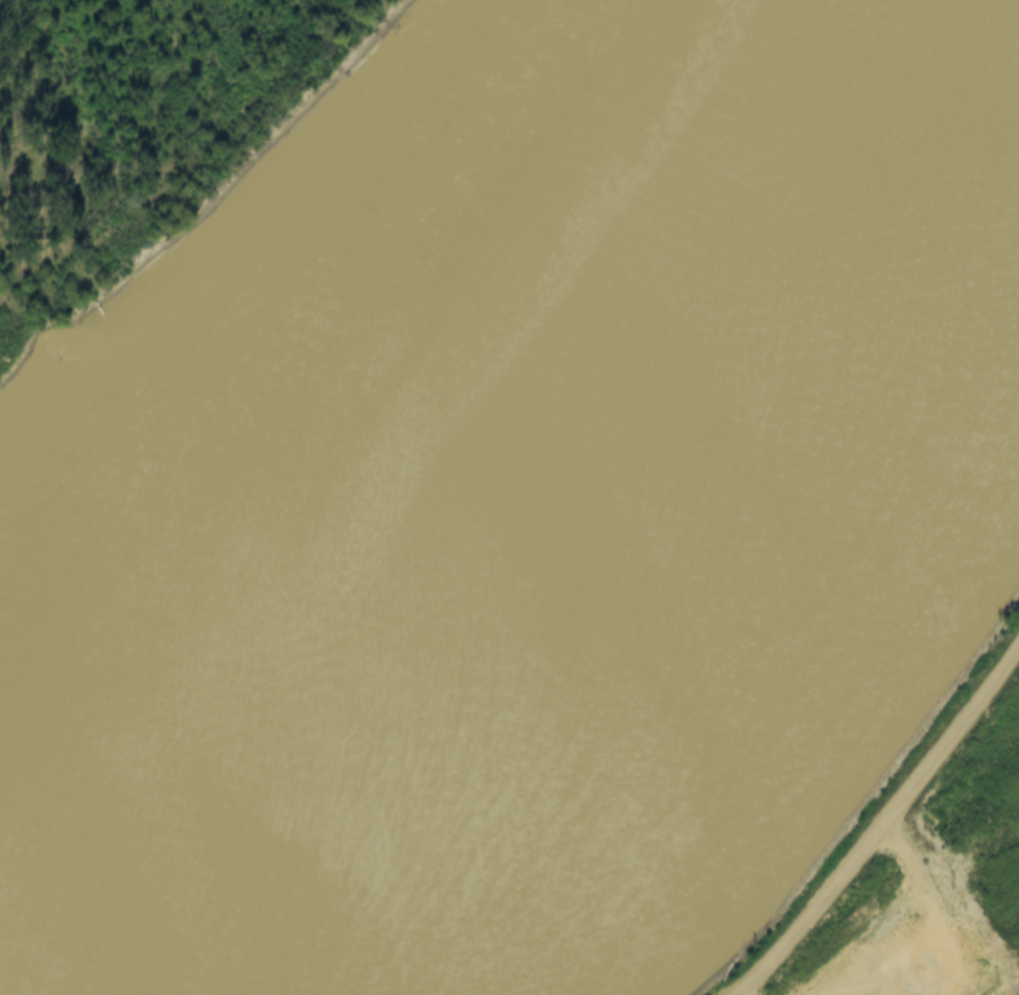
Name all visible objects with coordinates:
river: (397, 376)
road: (881, 823)
road: (936, 909)
petroleum well: (902, 993)

